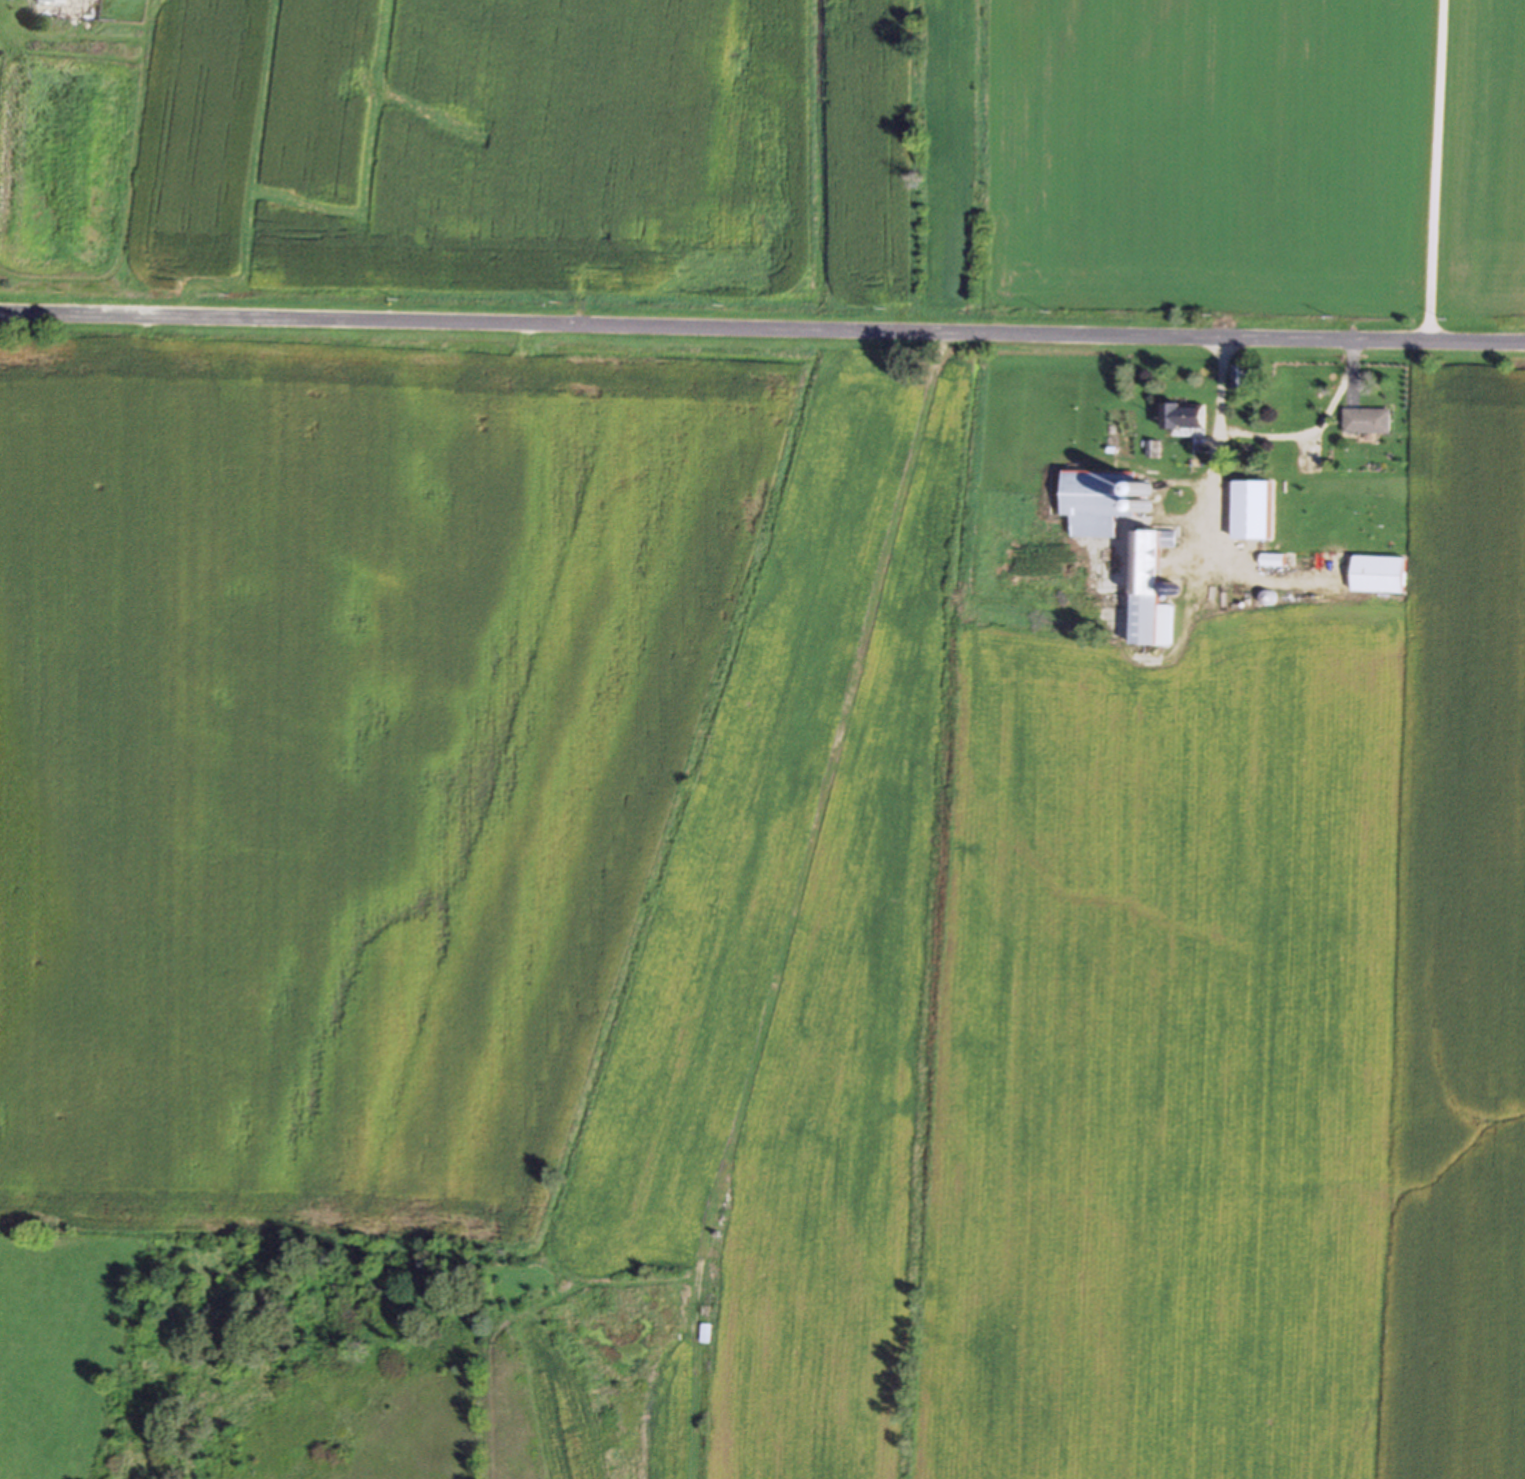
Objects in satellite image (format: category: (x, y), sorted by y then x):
building: (48, 9)
road: (1435, 171)
road: (762, 330)
building: (1239, 378)
building: (1181, 417)
building: (1365, 422)
road: (1316, 429)
road: (1216, 450)
building: (1101, 501)
building: (1249, 512)
building: (1322, 559)
building: (1377, 576)
building: (1148, 592)

